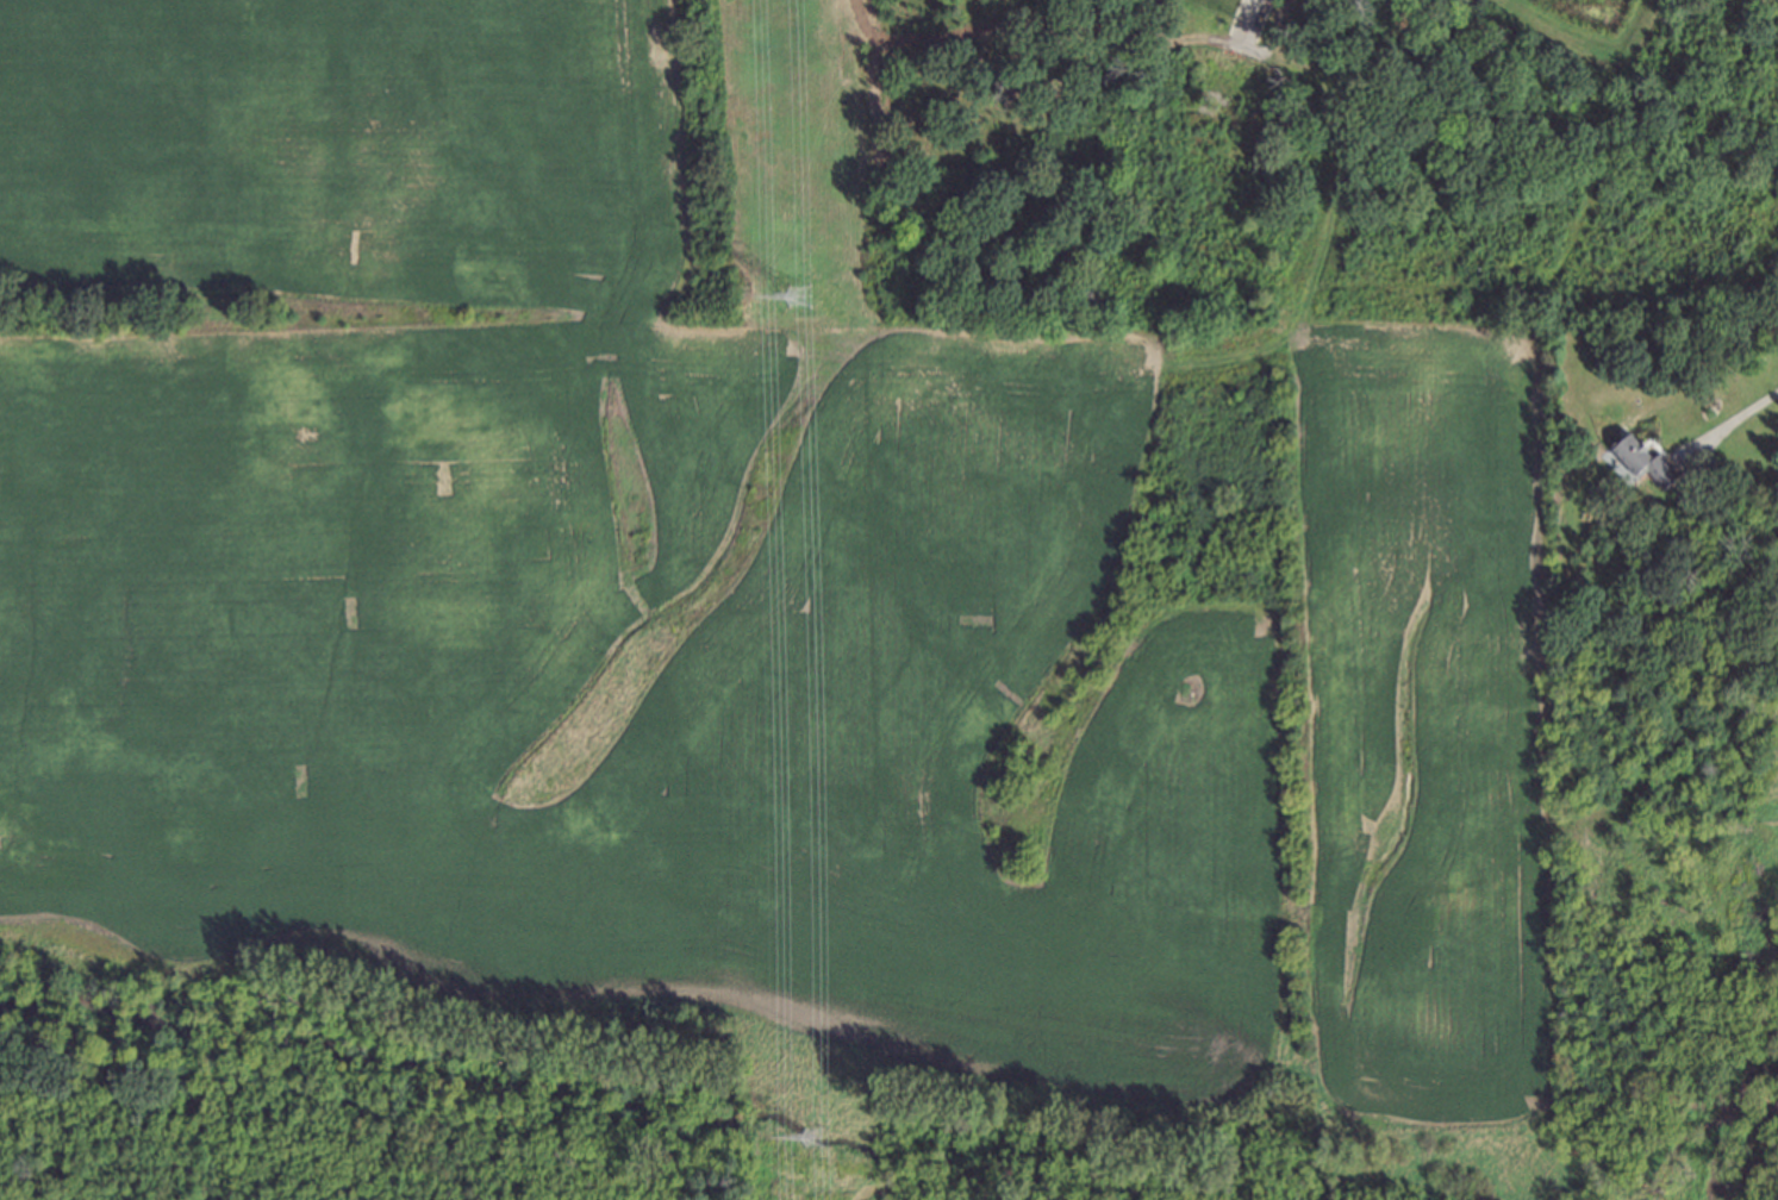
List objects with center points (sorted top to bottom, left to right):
road: (1243, 24)
road: (1271, 38)
power tower: (800, 298)
building: (1763, 332)
road: (1736, 419)
building: (1641, 461)
river: (586, 1096)
power tower: (819, 1152)

